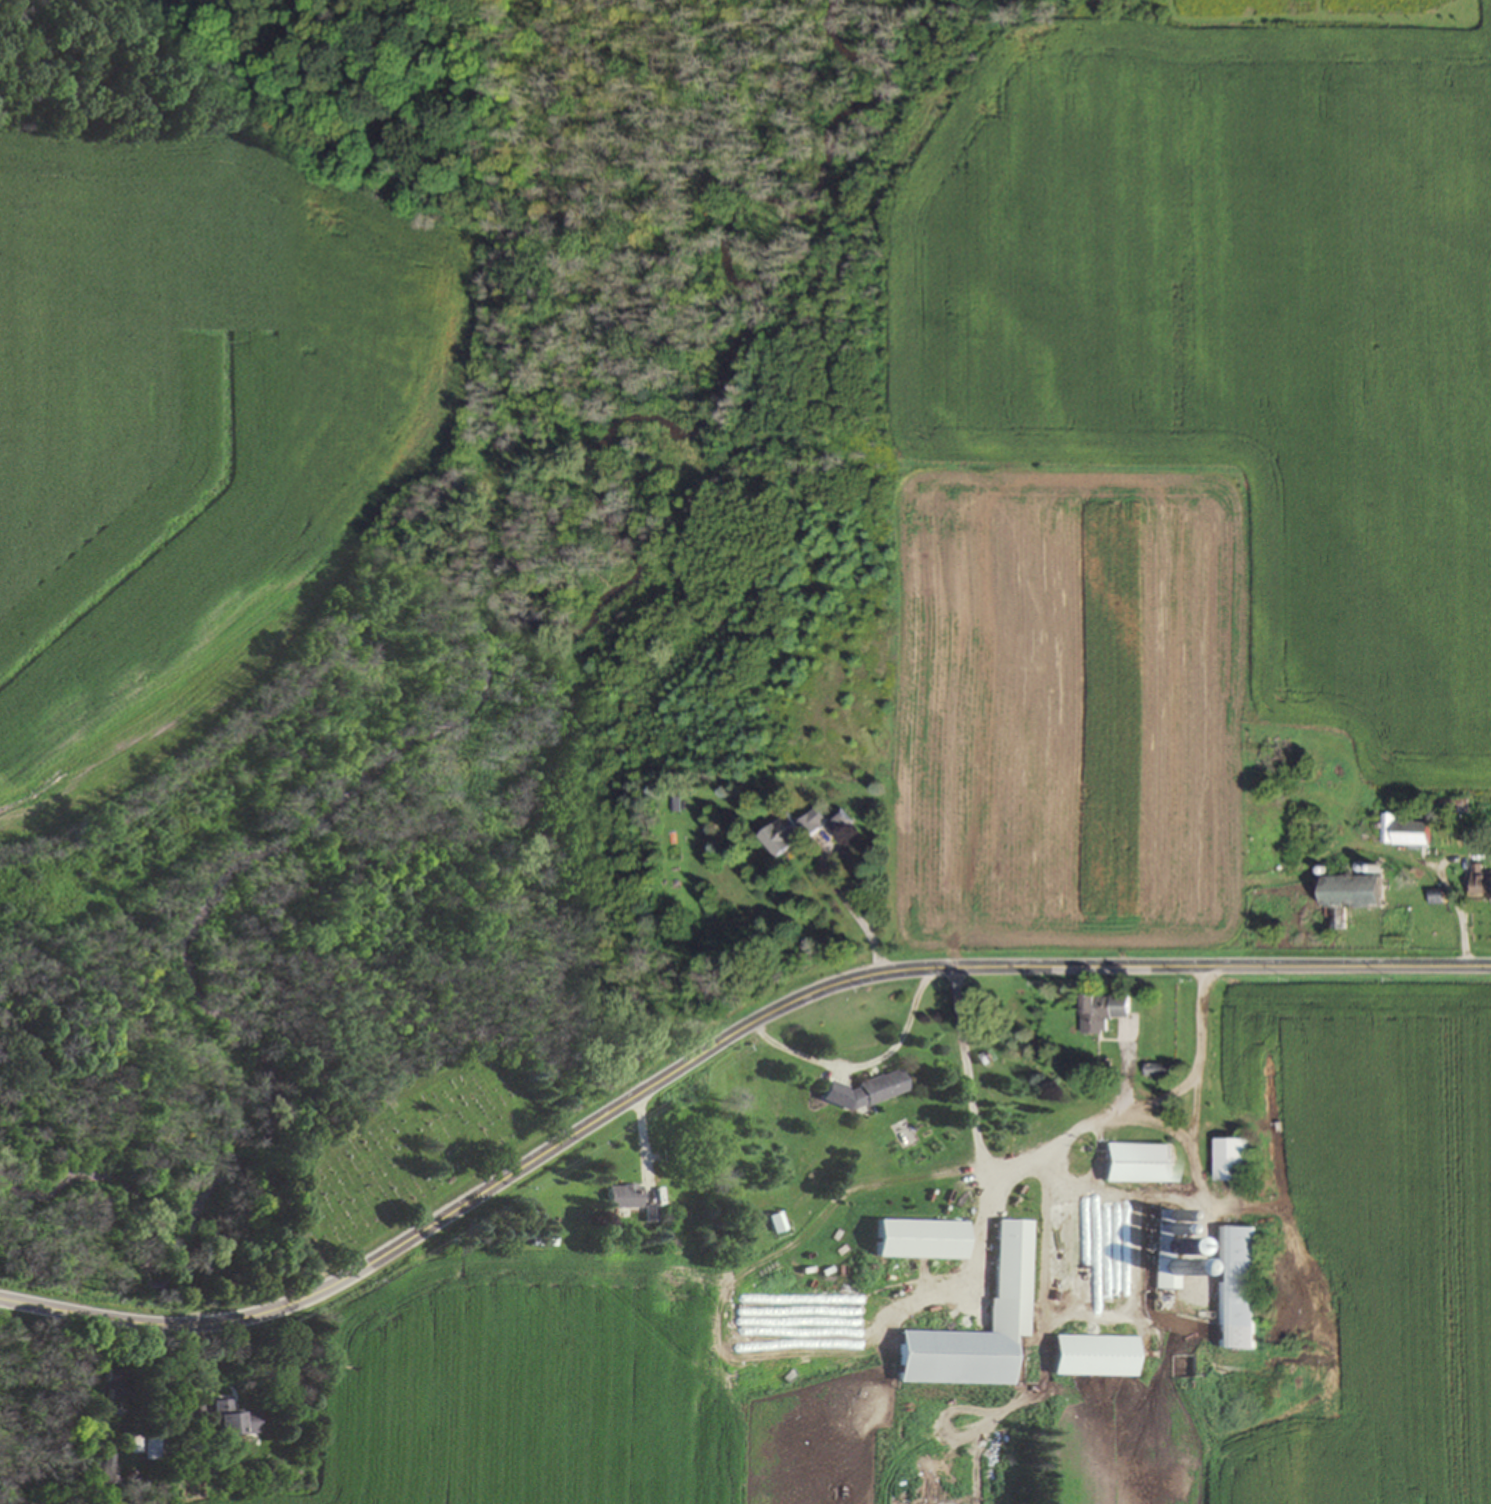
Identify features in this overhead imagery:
building: (1411, 830)
building: (788, 831)
building: (1480, 880)
building: (1355, 888)
building: (1101, 1008)
road: (715, 1047)
road: (861, 1064)
building: (872, 1087)
road: (969, 1101)
road: (1193, 1114)
road: (1063, 1139)
building: (1231, 1156)
building: (1136, 1161)
building: (622, 1195)
building: (648, 1212)
building: (775, 1220)
building: (918, 1237)
building: (1007, 1274)
building: (1234, 1285)
building: (1090, 1354)
building: (112, 1382)
building: (231, 1421)
building: (132, 1441)
building: (153, 1441)
building: (103, 1461)

